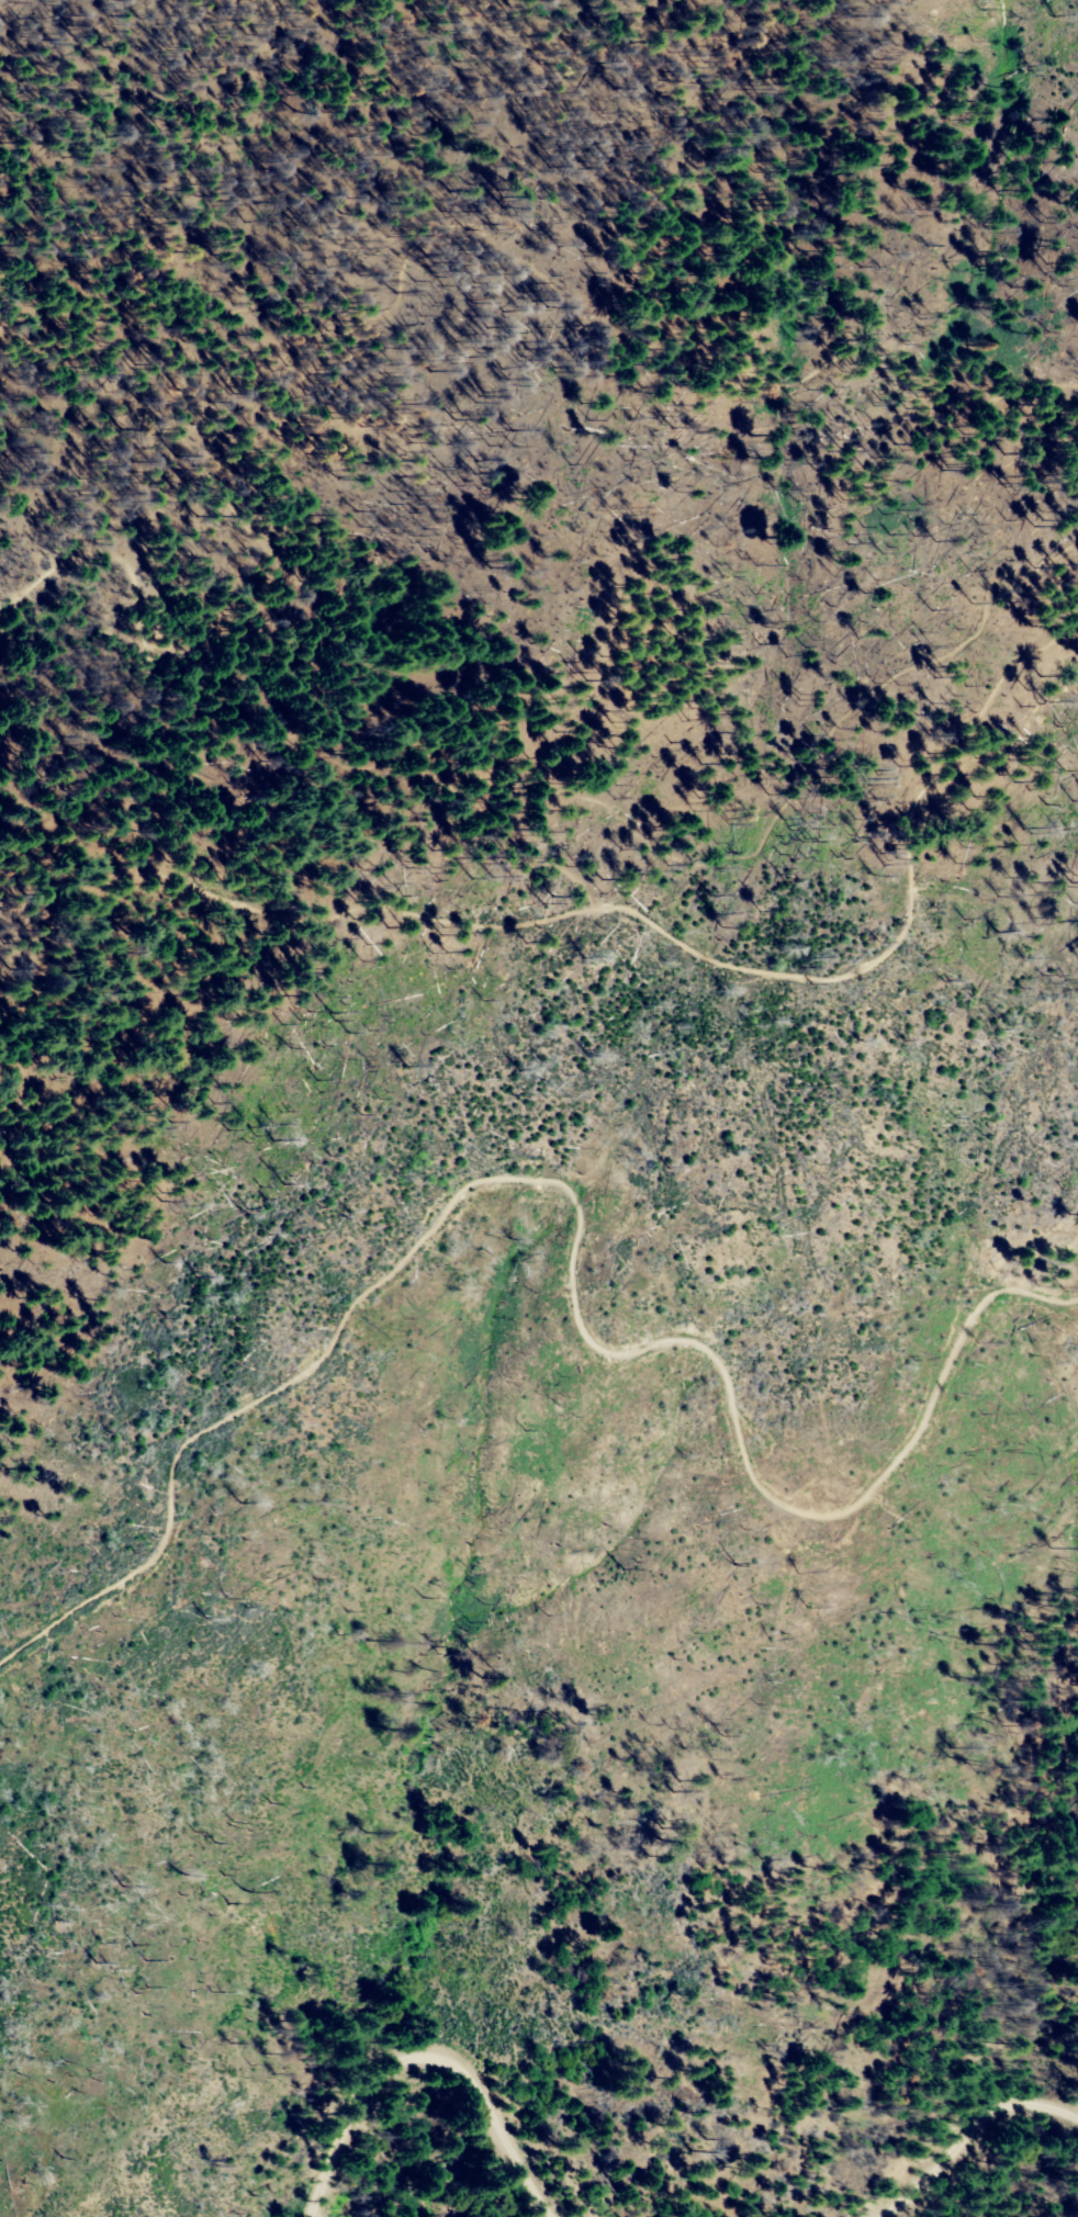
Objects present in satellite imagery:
road: (433, 2052)
road: (966, 2135)

